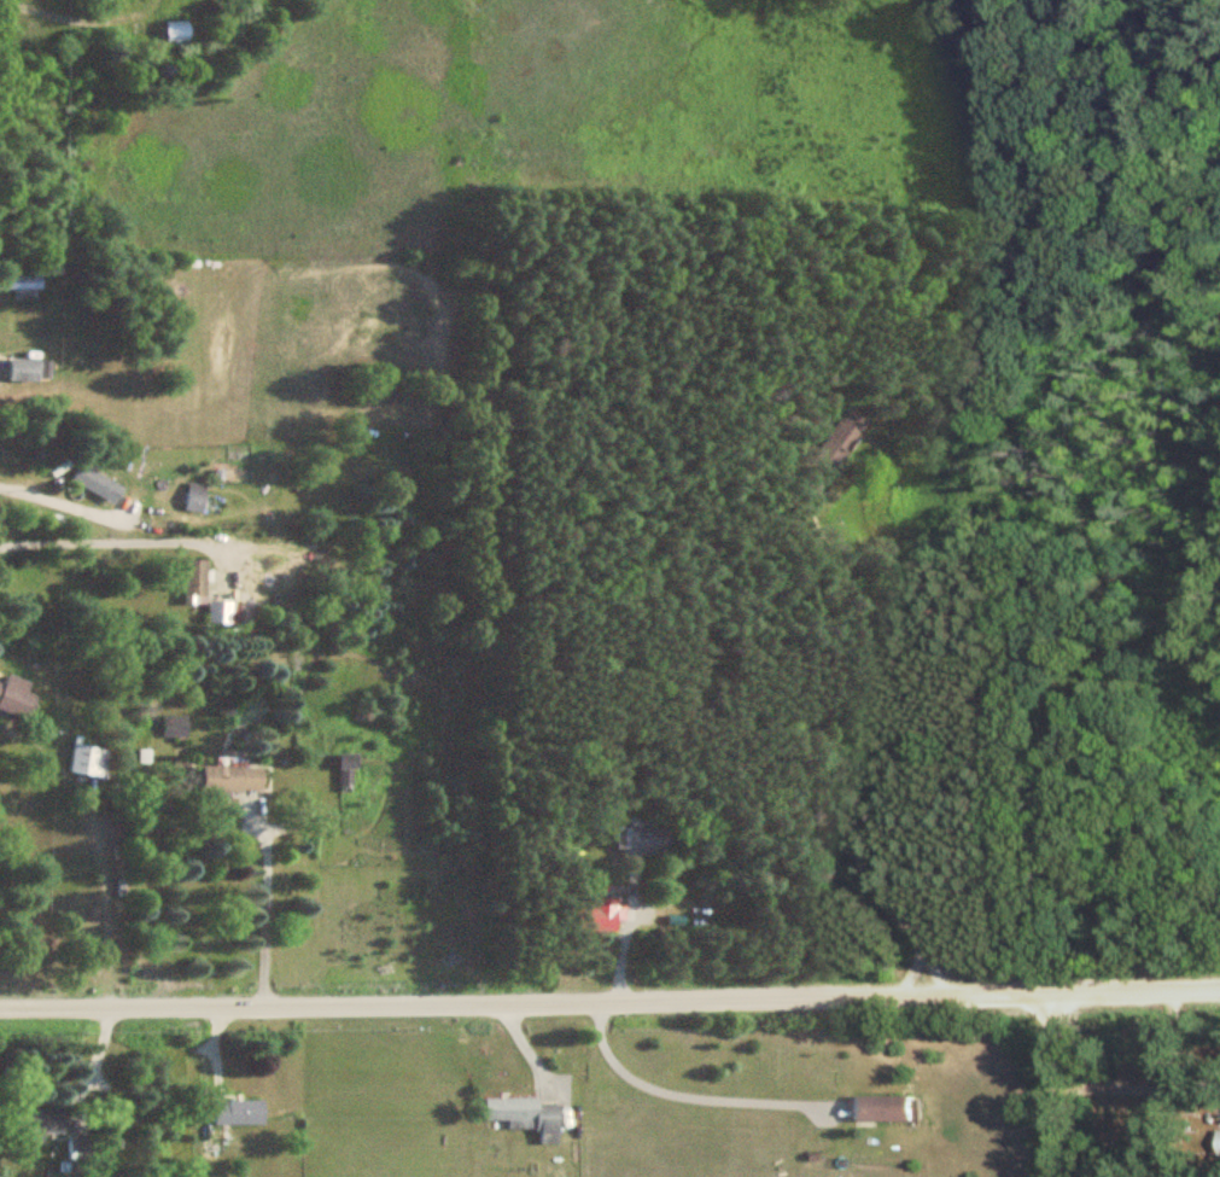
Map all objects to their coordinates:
road: (84, 17)
building: (179, 31)
building: (22, 282)
building: (27, 369)
building: (836, 441)
building: (98, 484)
building: (197, 497)
road: (60, 501)
road: (106, 540)
building: (197, 583)
building: (221, 613)
building: (17, 697)
building: (175, 726)
building: (88, 761)
building: (346, 771)
building: (230, 781)
road: (262, 904)
building: (599, 916)
road: (1136, 992)
road: (525, 1006)
road: (1056, 1085)
road: (683, 1096)
building: (878, 1108)
building: (235, 1113)
building: (524, 1117)
building: (37, 1123)
building: (1219, 1142)
building: (81, 1149)

